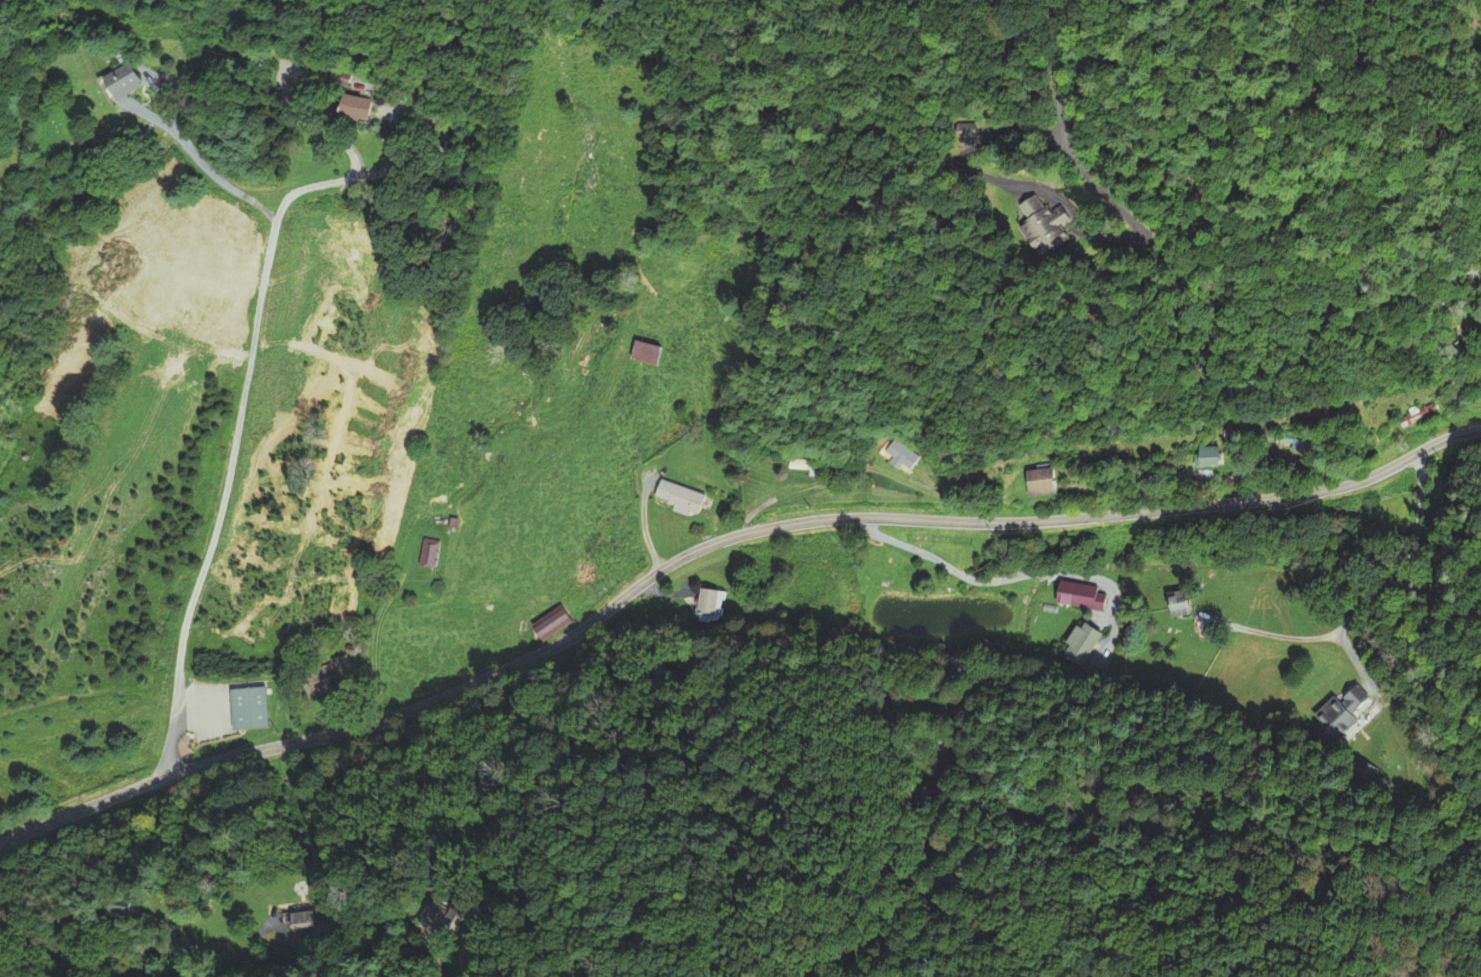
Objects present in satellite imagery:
building: (339, 79)
building: (117, 88)
road: (1129, 93)
building: (341, 107)
building: (955, 130)
road: (213, 175)
building: (1040, 225)
road: (253, 350)
building: (645, 354)
building: (1413, 417)
building: (1292, 442)
building: (898, 455)
building: (1200, 457)
building: (804, 466)
building: (1033, 483)
building: (676, 498)
road: (715, 542)
building: (430, 554)
road: (1002, 580)
building: (1091, 598)
road: (1368, 602)
building: (705, 603)
building: (1176, 606)
building: (551, 624)
building: (1081, 645)
building: (338, 664)
building: (311, 682)
building: (244, 708)
building: (1339, 712)
building: (932, 741)
building: (444, 918)
building: (313, 924)
road: (278, 926)
road: (248, 945)

